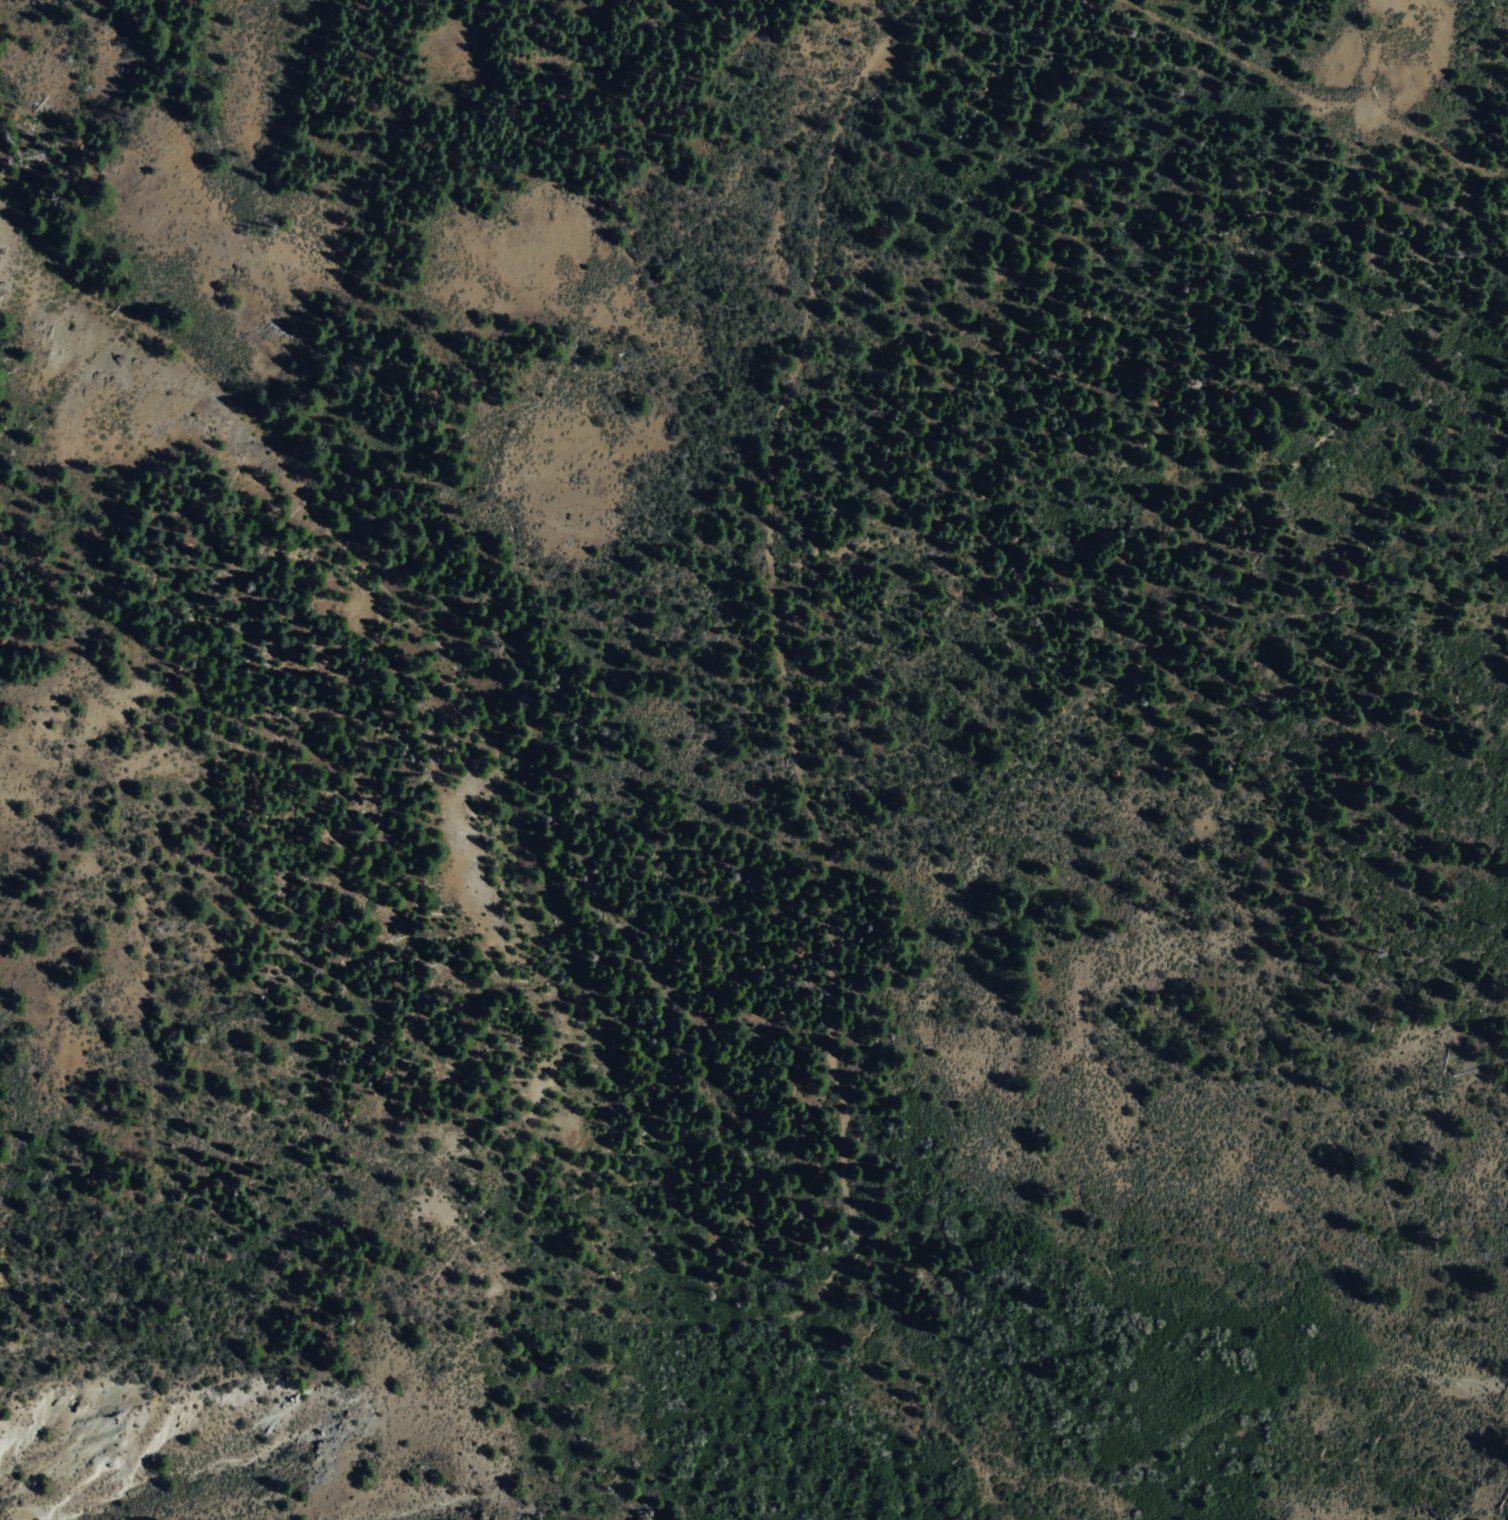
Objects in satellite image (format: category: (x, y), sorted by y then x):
road: (777, 537)

